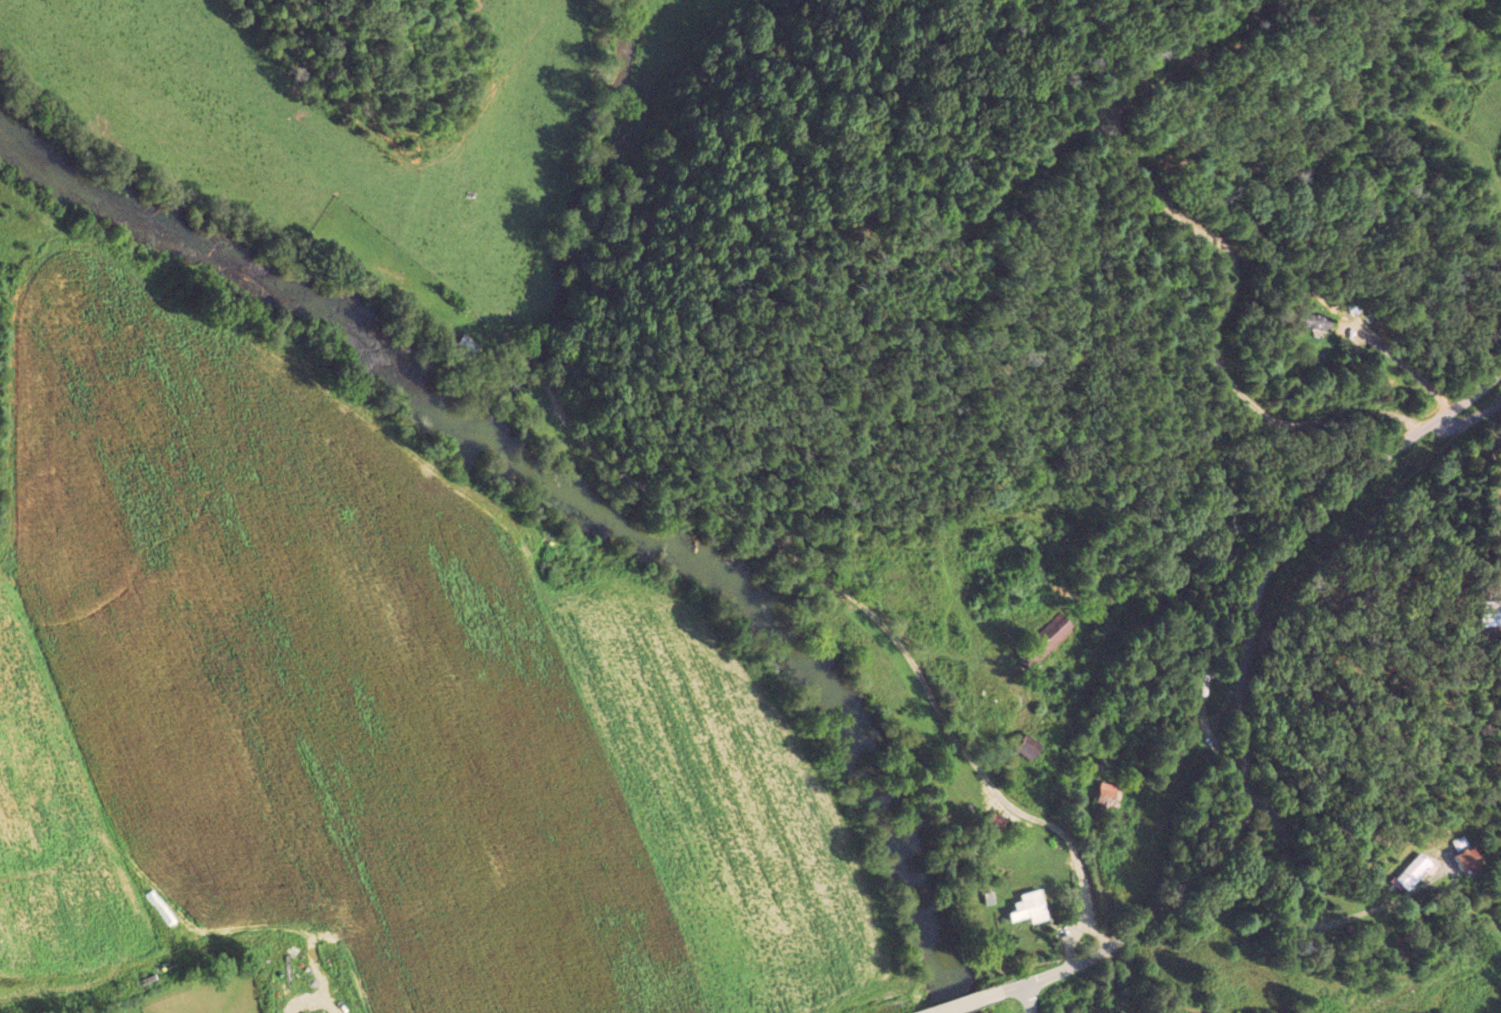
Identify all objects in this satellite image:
river: (237, 261)
building: (1316, 322)
building: (1492, 619)
building: (1047, 639)
river: (796, 647)
road: (1249, 674)
building: (1028, 746)
building: (1105, 794)
building: (1466, 859)
building: (1413, 871)
building: (1030, 907)
road: (974, 995)
road: (1029, 996)

